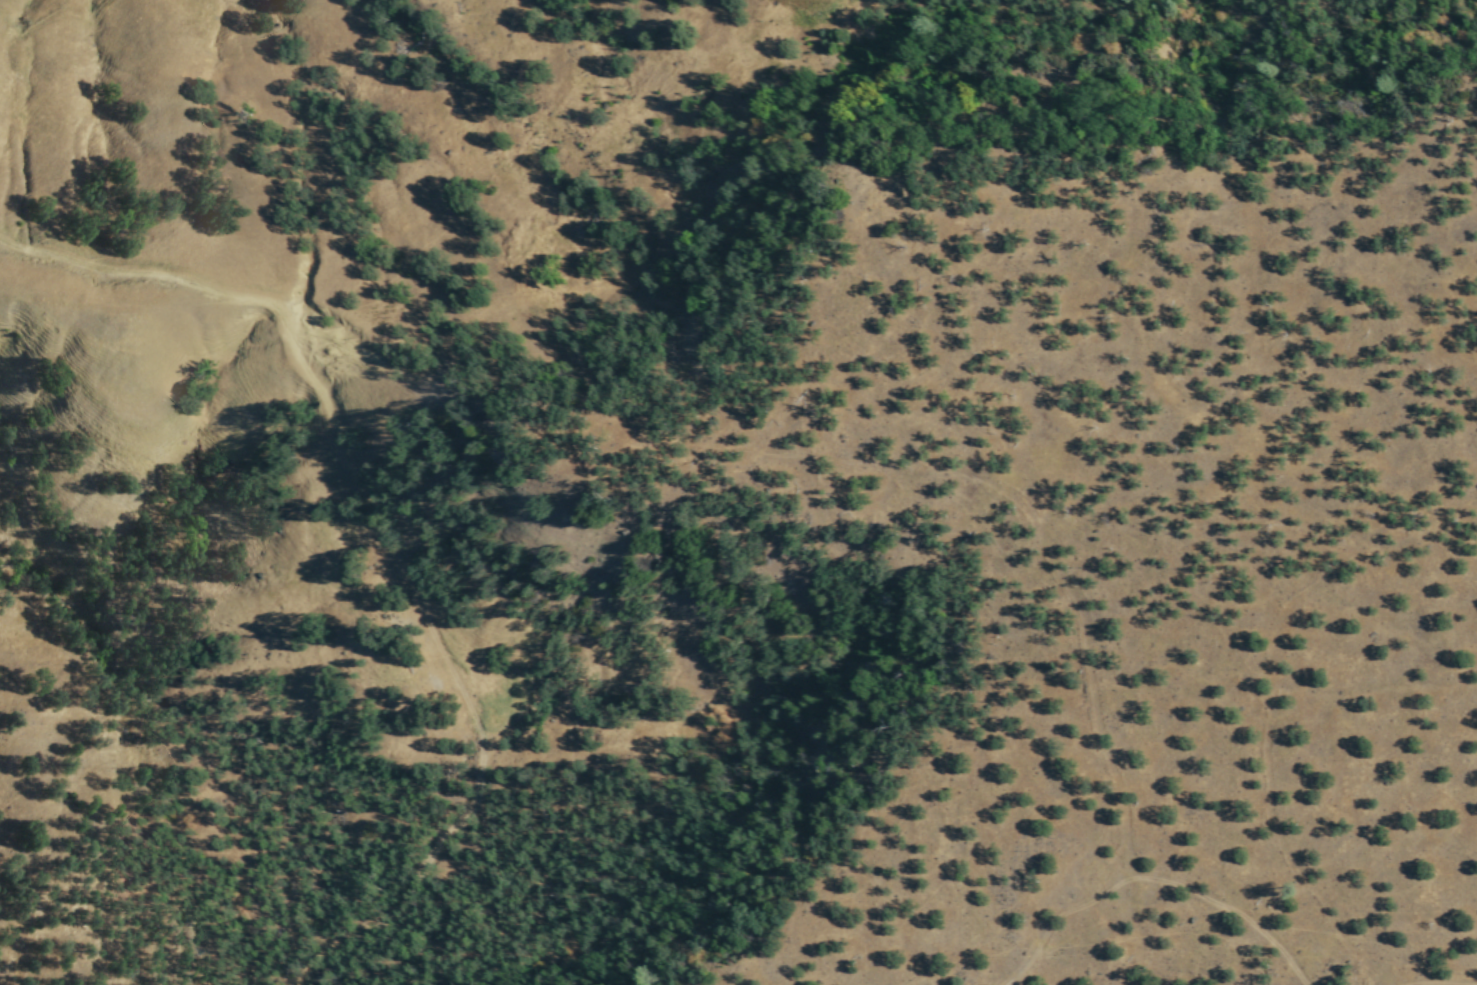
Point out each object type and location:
road: (1153, 876)
road: (1439, 982)

